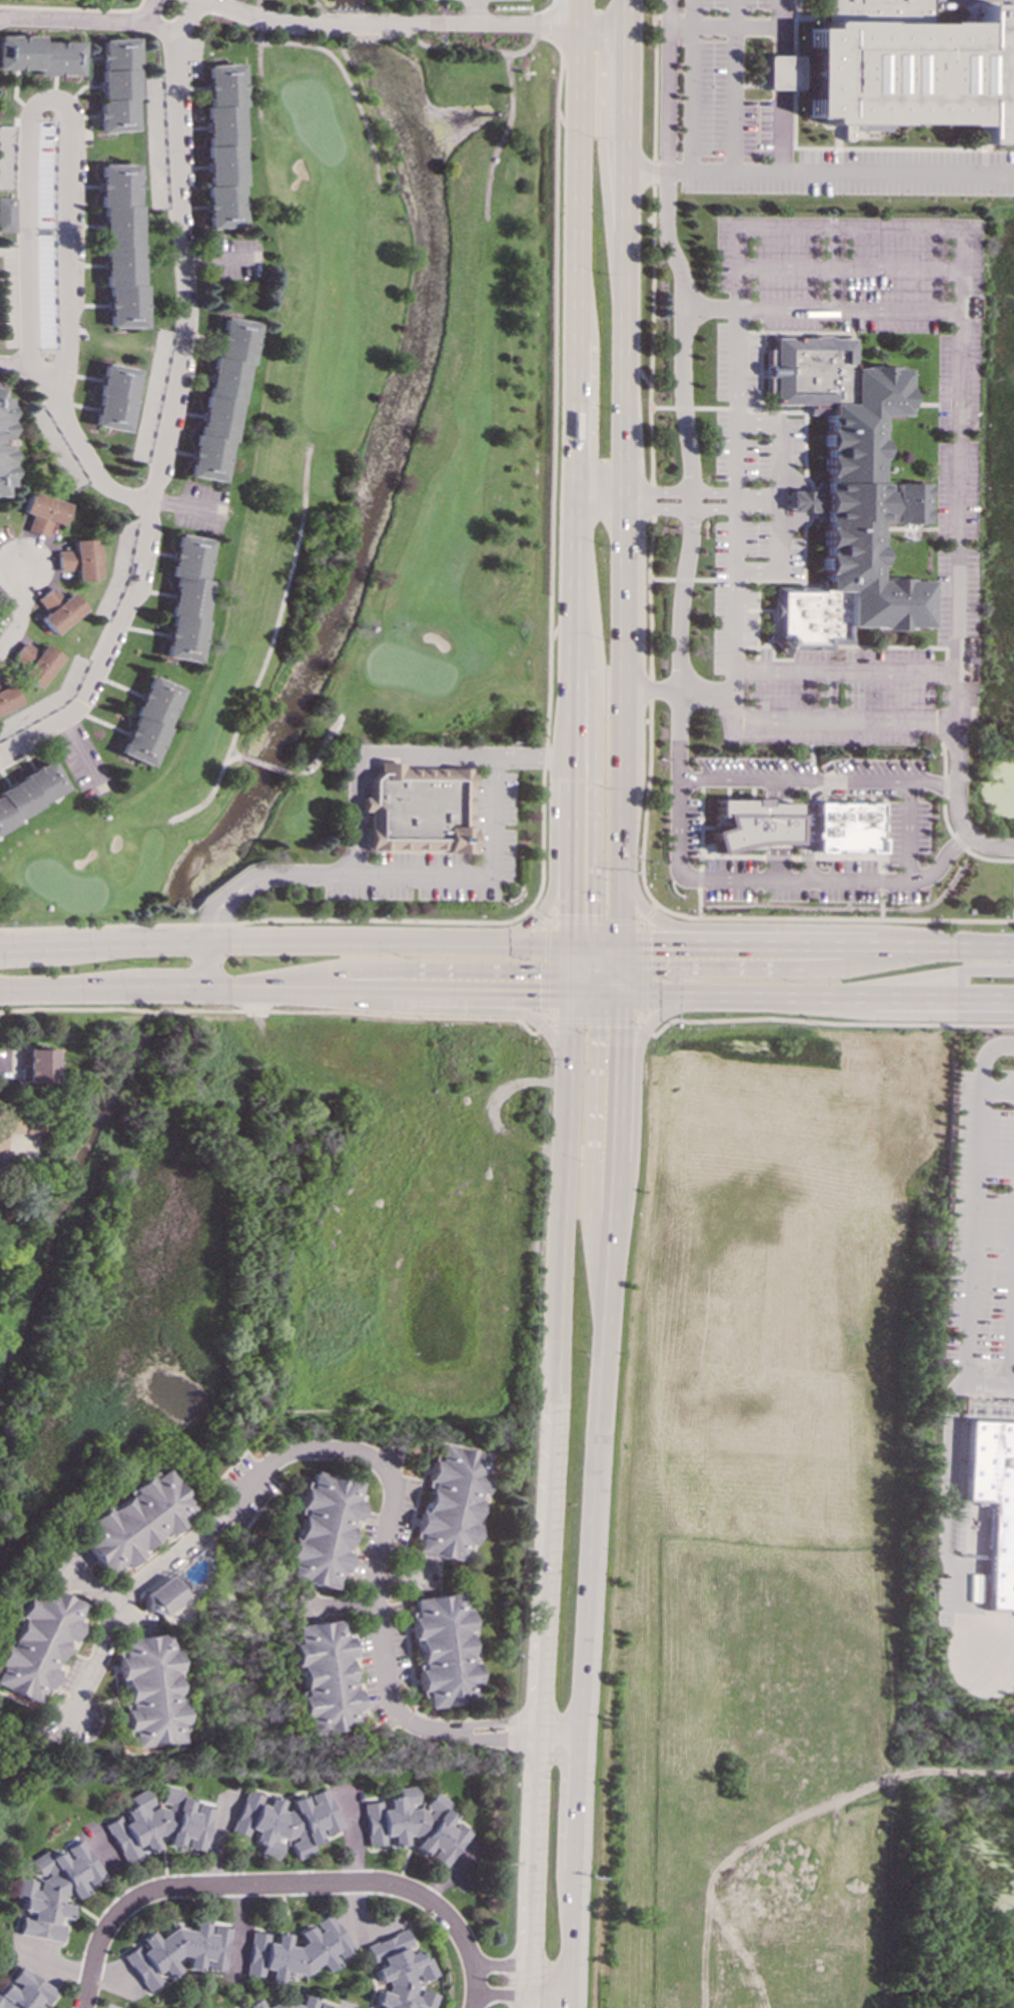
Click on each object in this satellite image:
park: (95, 1)
road: (623, 5)
road: (475, 12)
road: (574, 12)
road: (624, 12)
road: (254, 15)
road: (81, 19)
road: (553, 21)
road: (488, 24)
road: (599, 24)
road: (352, 25)
road: (694, 26)
road: (752, 27)
road: (280, 31)
road: (357, 34)
road: (473, 48)
building: (40, 57)
road: (259, 57)
building: (910, 66)
building: (782, 74)
road: (347, 80)
road: (653, 81)
building: (117, 84)
road: (693, 99)
road: (781, 100)
road: (55, 109)
road: (623, 128)
road: (502, 136)
building: (222, 145)
building: (8, 157)
road: (653, 172)
road: (645, 173)
road: (840, 173)
road: (573, 182)
building: (11, 214)
road: (958, 229)
building: (122, 245)
road: (831, 270)
road: (847, 270)
road: (710, 311)
road: (846, 312)
road: (849, 322)
road: (812, 332)
road: (747, 342)
road: (18, 363)
road: (621, 363)
road: (758, 364)
road: (681, 370)
road: (747, 374)
road: (761, 374)
building: (112, 397)
building: (220, 399)
road: (920, 404)
road: (947, 404)
road: (174, 405)
road: (661, 407)
road: (683, 408)
road: (709, 408)
road: (736, 409)
road: (775, 411)
road: (571, 426)
building: (3, 440)
road: (791, 446)
road: (791, 458)
road: (92, 465)
road: (551, 465)
park: (370, 466)
parking lot: (750, 474)
road: (653, 494)
road: (756, 494)
building: (844, 497)
road: (778, 499)
building: (800, 501)
road: (620, 502)
road: (801, 502)
road: (809, 506)
road: (756, 511)
building: (40, 512)
road: (652, 512)
road: (904, 529)
road: (946, 529)
road: (649, 546)
building: (74, 559)
road: (661, 578)
road: (683, 579)
road: (702, 579)
road: (728, 580)
road: (772, 580)
road: (933, 584)
road: (946, 584)
building: (184, 597)
building: (53, 609)
road: (746, 610)
road: (764, 610)
road: (16, 611)
road: (756, 619)
road: (745, 623)
road: (559, 626)
road: (570, 634)
road: (745, 635)
road: (766, 643)
road: (270, 645)
road: (772, 647)
road: (893, 647)
building: (31, 662)
road: (845, 672)
road: (676, 692)
building: (5, 697)
road: (942, 702)
road: (560, 718)
building: (146, 721)
road: (618, 727)
road: (593, 733)
road: (321, 749)
road: (235, 751)
road: (811, 751)
road: (561, 757)
road: (230, 759)
road: (268, 766)
road: (817, 780)
road: (818, 792)
building: (29, 793)
road: (956, 806)
road: (358, 808)
building: (423, 811)
parking lot: (497, 811)
road: (494, 812)
building: (751, 824)
road: (700, 825)
road: (946, 826)
building: (847, 828)
road: (775, 829)
road: (908, 829)
road: (884, 831)
road: (569, 850)
road: (731, 856)
road: (788, 857)
road: (849, 857)
road: (710, 867)
road: (848, 868)
road: (421, 875)
road: (550, 877)
road: (698, 879)
road: (766, 879)
road: (881, 881)
road: (1013, 900)
road: (698, 903)
road: (880, 905)
traffic signals: (569, 914)
traffic signals: (593, 914)
road: (536, 915)
road: (647, 915)
road: (833, 918)
road: (265, 919)
road: (593, 921)
traffic signals: (657, 921)
road: (547, 922)
road: (638, 923)
road: (640, 926)
road: (785, 926)
road: (309, 941)
road: (581, 943)
road: (606, 943)
traffic signals: (648, 943)
road: (816, 944)
road: (25, 945)
road: (583, 950)
road: (594, 953)
road: (619, 955)
road: (569, 956)
road: (611, 956)
road: (595, 963)
road: (204, 964)
road: (544, 967)
road: (581, 967)
road: (598, 967)
road: (595, 968)
road: (609, 968)
traffic signals: (648, 968)
road: (778, 968)
road: (402, 969)
traffic signals: (538, 971)
road: (598, 971)
road: (641, 971)
road: (927, 975)
road: (580, 979)
road: (569, 980)
road: (619, 981)
road: (596, 982)
road: (607, 984)
road: (65, 988)
road: (166, 988)
road: (384, 989)
traffic signals: (537, 992)
road: (583, 992)
road: (608, 993)
road: (730, 994)
road: (928, 994)
road: (449, 1009)
road: (269, 1010)
road: (546, 1015)
road: (638, 1017)
road: (592, 1019)
road: (827, 1023)
road: (542, 1025)
traffic signals: (596, 1026)
traffic signals: (619, 1026)
road: (642, 1027)
road: (983, 1054)
building: (35, 1066)
road: (996, 1089)
road: (634, 1101)
building: (8, 1123)
road: (562, 1151)
road: (591, 1155)
road: (608, 1218)
road: (969, 1235)
road: (1011, 1303)
road: (987, 1382)
road: (374, 1462)
road: (947, 1498)
building: (993, 1502)
building: (450, 1503)
crop: (764, 1512)
building: (133, 1521)
road: (550, 1523)
building: (321, 1529)
road: (89, 1589)
road: (587, 1590)
building: (163, 1595)
building: (37, 1642)
building: (443, 1649)
road: (975, 1653)
building: (324, 1677)
building: (149, 1690)
road: (962, 1774)
building: (284, 1822)
building: (157, 1823)
building: (414, 1825)
road: (537, 1872)
road: (573, 1872)
park: (953, 1875)
road: (261, 1885)
building: (52, 1889)
building: (296, 1950)
building: (176, 1951)
road: (521, 1967)
building: (399, 1973)
road: (476, 1987)
building: (23, 1991)
road: (521, 1998)
building: (282, 2003)
building: (323, 2006)

